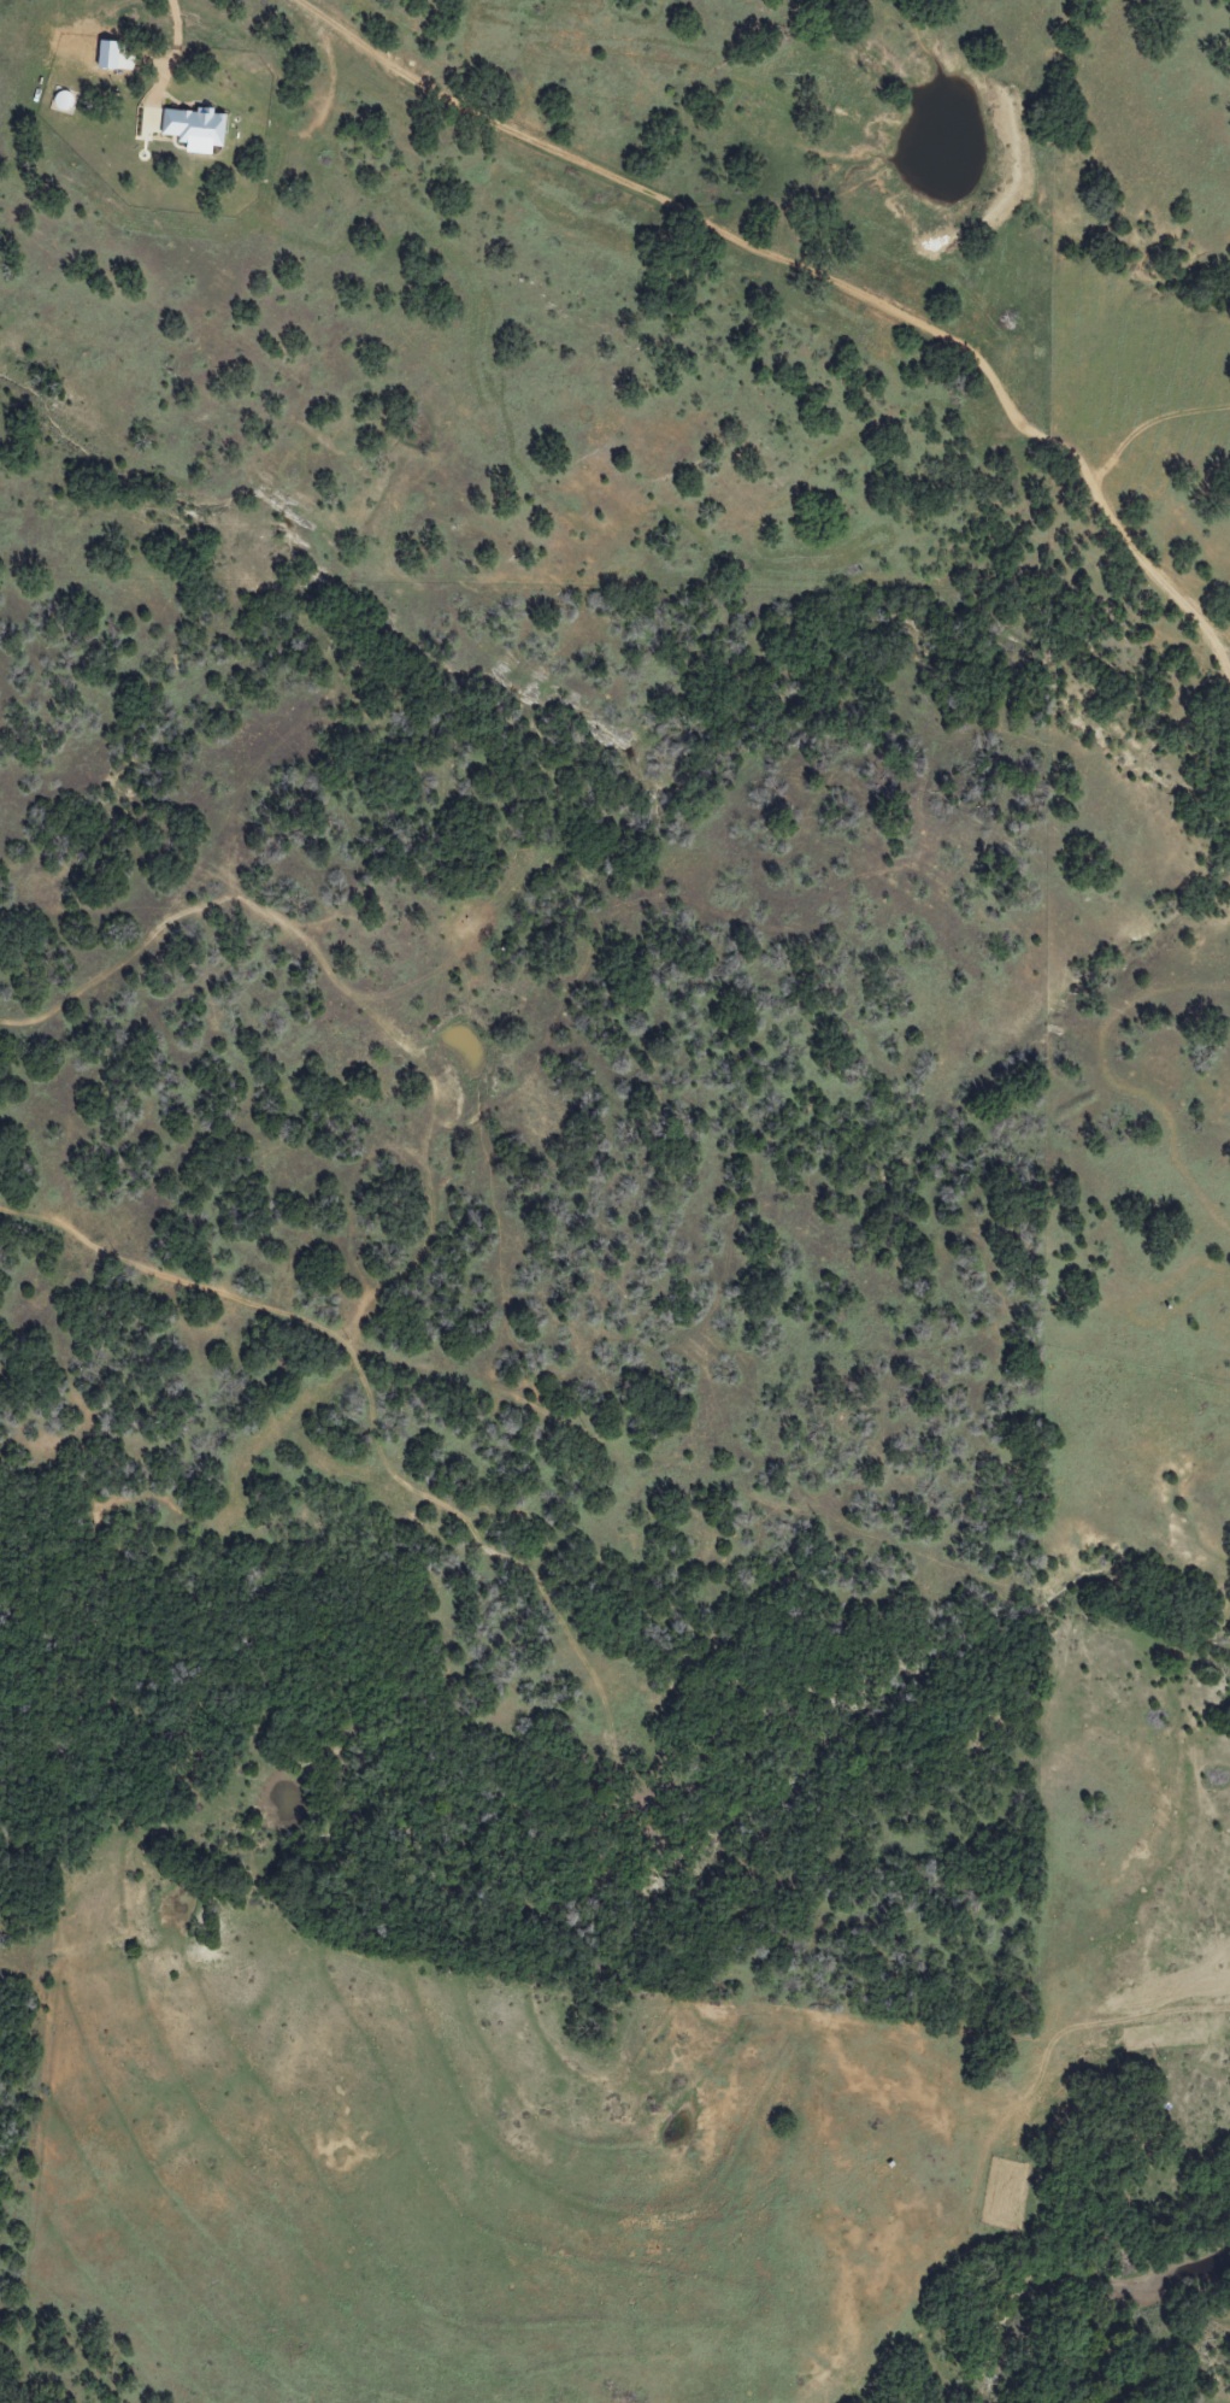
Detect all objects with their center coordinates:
road: (814, 270)

